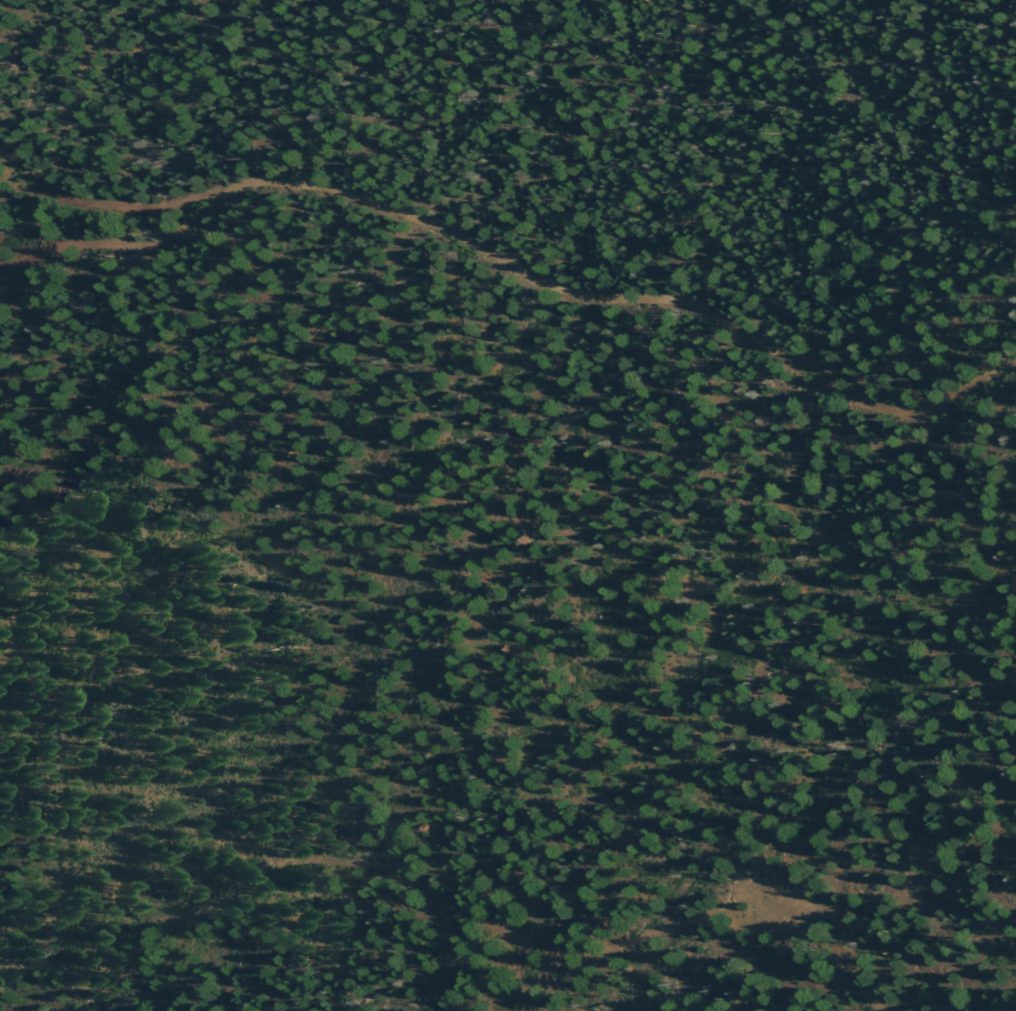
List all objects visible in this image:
road: (841, 58)
road: (512, 270)

